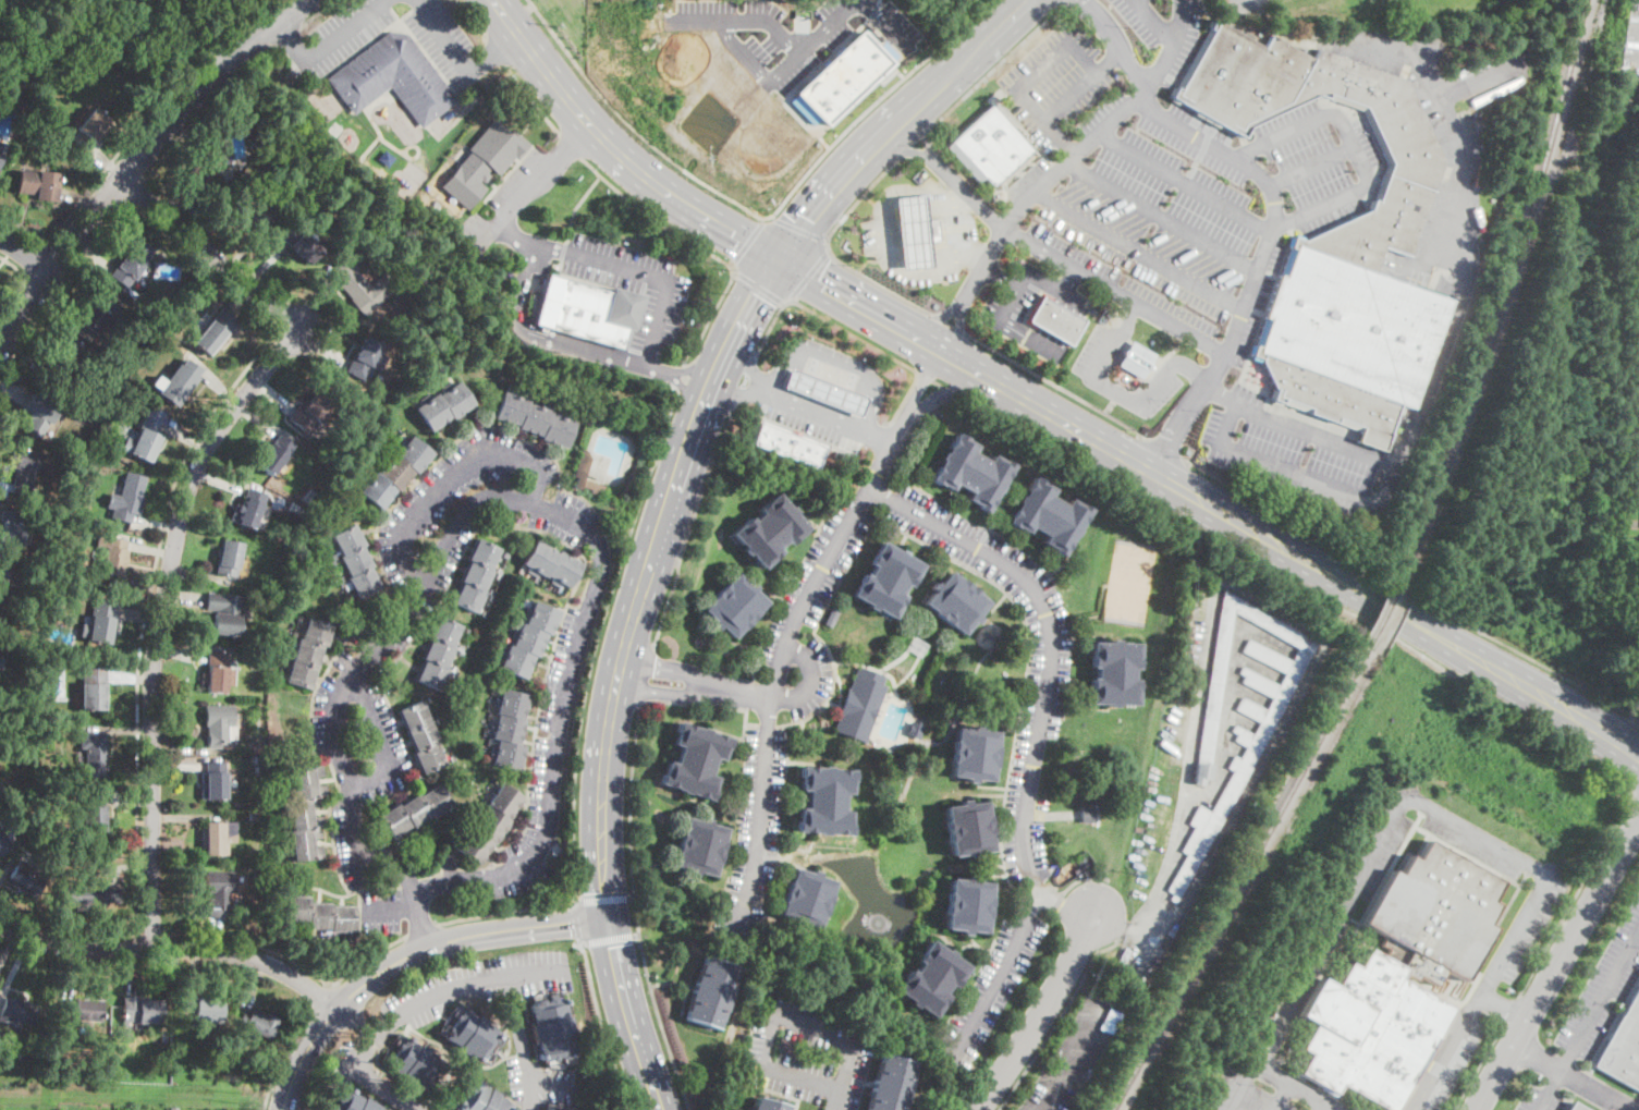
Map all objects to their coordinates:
road: (1063, 2)
road: (317, 12)
road: (470, 19)
building: (109, 21)
road: (885, 23)
road: (1157, 23)
road: (1183, 23)
road: (829, 26)
road: (342, 27)
road: (719, 28)
parking lot: (341, 34)
road: (289, 36)
road: (442, 36)
road: (293, 37)
parking lot: (1632, 38)
parking lot: (441, 40)
road: (496, 50)
road: (493, 52)
road: (999, 60)
road: (1160, 66)
building: (842, 75)
building: (393, 77)
road: (1030, 78)
building: (25, 99)
road: (531, 99)
road: (874, 106)
road: (206, 108)
building: (449, 115)
road: (632, 122)
road: (895, 123)
road: (926, 127)
building: (89, 129)
road: (133, 133)
road: (917, 137)
road: (1059, 137)
road: (570, 143)
road: (1353, 143)
building: (989, 146)
road: (615, 150)
road: (901, 150)
building: (2, 151)
building: (386, 158)
building: (209, 159)
road: (140, 160)
building: (484, 162)
road: (1309, 164)
parking lot: (1172, 178)
road: (1186, 182)
building: (38, 184)
road: (535, 184)
parking lot: (517, 191)
road: (138, 192)
road: (576, 204)
building: (256, 205)
road: (1273, 206)
road: (1019, 210)
road: (1076, 214)
road: (650, 215)
road: (1163, 216)
road: (1467, 222)
road: (1002, 225)
road: (798, 229)
building: (914, 231)
road: (954, 231)
road: (515, 236)
building: (1337, 237)
road: (748, 239)
road: (884, 240)
building: (301, 245)
road: (829, 249)
road: (25, 252)
road: (211, 255)
road: (37, 258)
traffic signals: (776, 260)
building: (131, 263)
road: (13, 266)
road: (203, 266)
building: (406, 272)
road: (1026, 272)
road: (644, 275)
road: (810, 275)
road: (1000, 278)
road: (1068, 280)
railway: (1512, 282)
parking lot: (633, 284)
road: (759, 285)
building: (356, 286)
road: (59, 291)
road: (840, 292)
road: (1114, 293)
parking lot: (1013, 296)
building: (935, 306)
building: (99, 310)
building: (588, 310)
road: (1047, 315)
road: (932, 319)
road: (946, 320)
building: (1055, 320)
road: (1055, 320)
road: (1066, 327)
road: (768, 328)
road: (705, 330)
road: (848, 330)
building: (213, 331)
building: (424, 331)
road: (959, 334)
road: (1025, 334)
road: (539, 337)
road: (919, 337)
building: (157, 341)
building: (121, 346)
road: (949, 354)
parking lot: (836, 355)
parking lot: (1097, 356)
building: (62, 358)
building: (364, 358)
building: (1136, 361)
road: (751, 368)
road: (974, 368)
road: (834, 369)
road: (1194, 373)
road: (674, 374)
road: (680, 374)
road: (924, 374)
road: (739, 380)
road: (919, 381)
building: (176, 382)
road: (939, 382)
road: (1057, 383)
road: (1102, 383)
road: (741, 390)
building: (824, 390)
road: (954, 391)
gas station: (824, 392)
road: (943, 392)
road: (1116, 392)
parking lot: (1192, 395)
road: (904, 399)
building: (99, 403)
building: (444, 406)
road: (1051, 411)
building: (309, 413)
building: (40, 414)
parking lot: (798, 417)
road: (832, 417)
building: (535, 419)
road: (914, 425)
building: (145, 437)
building: (100, 441)
building: (788, 444)
road: (1166, 444)
parking lot: (1291, 452)
building: (274, 454)
building: (335, 459)
building: (91, 461)
building: (582, 467)
building: (396, 472)
building: (970, 472)
building: (24, 473)
road: (448, 478)
parking lot: (871, 492)
building: (127, 497)
building: (310, 497)
road: (1360, 498)
road: (509, 499)
building: (249, 509)
building: (294, 509)
parking lot: (472, 509)
building: (1048, 515)
road: (688, 525)
building: (72, 527)
building: (769, 530)
building: (9, 533)
building: (112, 557)
building: (229, 559)
building: (356, 561)
building: (551, 564)
road: (965, 564)
building: (476, 575)
building: (886, 580)
park: (1129, 583)
road: (1302, 583)
road: (1411, 585)
building: (57, 591)
road: (1378, 599)
building: (955, 602)
railway: (1383, 603)
building: (734, 606)
building: (223, 613)
parking lot: (811, 613)
road: (146, 615)
building: (832, 617)
road: (159, 618)
building: (99, 623)
building: (529, 638)
parking lot: (1052, 639)
road: (595, 641)
building: (308, 652)
building: (438, 652)
building: (258, 657)
building: (0, 659)
road: (784, 663)
road: (662, 667)
parking lot: (359, 668)
building: (217, 672)
road: (617, 673)
road: (645, 673)
building: (1113, 673)
road: (811, 679)
building: (94, 687)
road: (657, 688)
road: (735, 692)
parking lot: (768, 707)
building: (858, 708)
building: (50, 717)
building: (218, 723)
road: (1628, 728)
building: (510, 730)
building: (915, 730)
road: (1037, 733)
building: (421, 736)
parking lot: (376, 743)
road: (382, 744)
building: (1251, 744)
building: (259, 745)
building: (94, 753)
building: (974, 753)
building: (258, 760)
building: (694, 760)
building: (259, 769)
parking lot: (536, 777)
building: (213, 781)
road: (1186, 788)
road: (1635, 791)
building: (824, 801)
building: (415, 810)
building: (94, 814)
building: (306, 814)
building: (253, 815)
building: (1088, 815)
building: (490, 824)
building: (968, 828)
parking lot: (756, 833)
building: (216, 838)
parking lot: (352, 840)
building: (5, 841)
road: (628, 841)
parking lot: (1025, 844)
building: (699, 846)
building: (1054, 869)
building: (27, 877)
road: (1080, 879)
railway: (1243, 882)
building: (219, 891)
road: (1576, 892)
building: (83, 895)
road: (628, 895)
road: (602, 898)
building: (805, 898)
road: (1059, 899)
building: (968, 905)
road: (1065, 905)
road: (390, 908)
parking lot: (380, 910)
road: (507, 911)
building: (320, 914)
road: (1093, 914)
traffic signals: (607, 917)
road: (575, 923)
road: (68, 929)
road: (423, 929)
road: (635, 934)
road: (154, 936)
road: (607, 938)
road: (173, 949)
road: (406, 955)
road: (295, 963)
road: (1556, 965)
road: (534, 968)
road: (498, 974)
building: (1401, 977)
building: (931, 978)
parking lot: (478, 984)
parking lot: (994, 985)
building: (710, 992)
road: (320, 997)
road: (1600, 997)
building: (199, 1008)
parking lot: (1591, 1009)
road: (775, 1010)
road: (1509, 1010)
building: (87, 1011)
building: (140, 1011)
building: (20, 1014)
road: (1037, 1017)
road: (1057, 1018)
building: (259, 1022)
road: (353, 1022)
road: (600, 1023)
building: (552, 1028)
building: (469, 1030)
parking lot: (821, 1044)
building: (1623, 1046)
road: (283, 1054)
road: (1536, 1058)
road: (1074, 1061)
building: (413, 1063)
building: (224, 1064)
parking lot: (786, 1066)
road: (1477, 1068)
building: (73, 1070)
road: (367, 1081)
parking lot: (541, 1081)
road: (549, 1082)
building: (891, 1084)
road: (1548, 1089)
road: (1595, 1089)
power tower: (243, 1094)
road: (834, 1099)
building: (482, 1100)
building: (352, 1102)
building: (766, 1105)
building: (1576, 1107)
parking lot: (1637, 1107)
building: (172, 1108)
building: (539, 1109)

